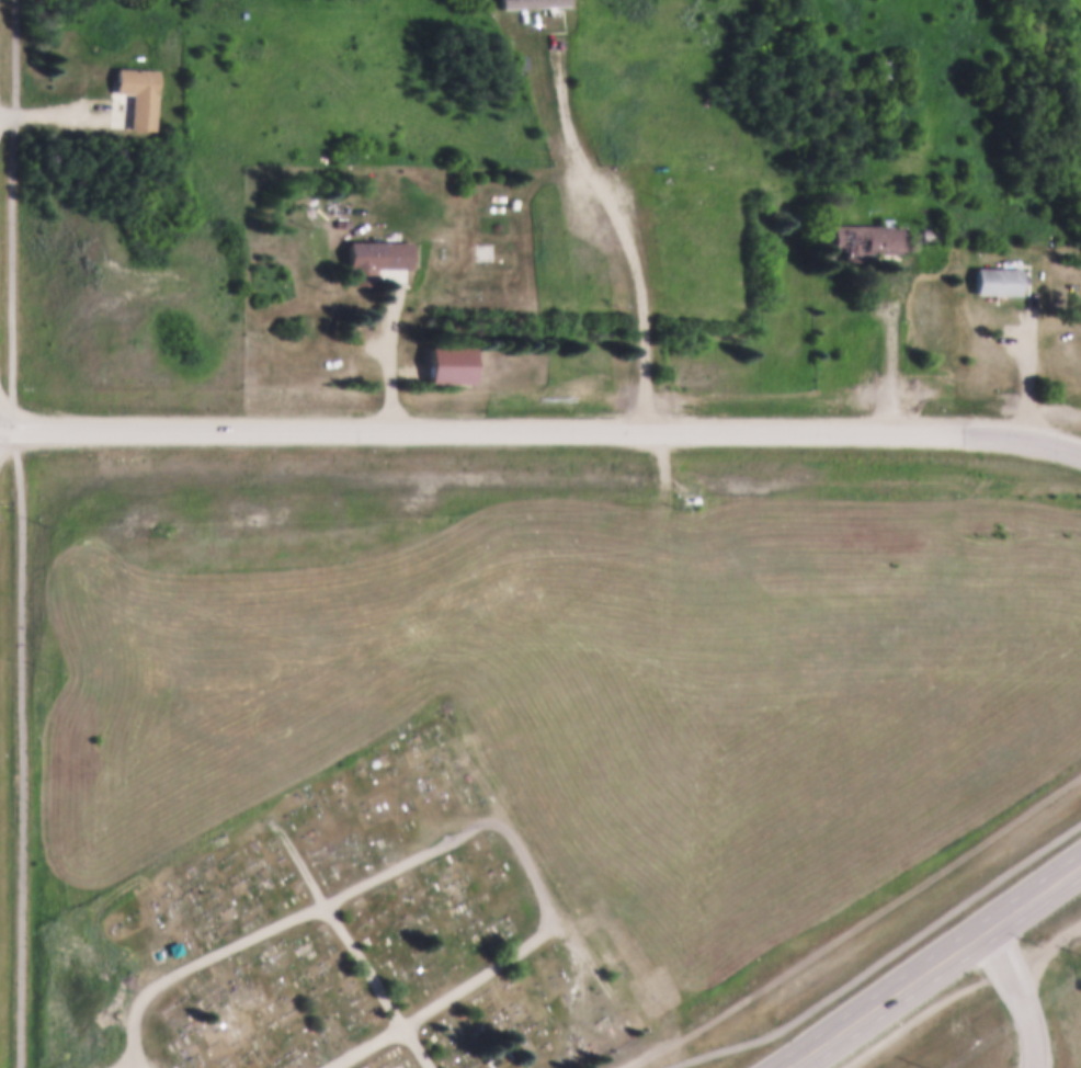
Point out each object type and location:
building: (532, 2)
building: (522, 63)
building: (883, 71)
building: (138, 93)
road: (61, 113)
building: (689, 186)
road: (636, 224)
building: (928, 232)
building: (866, 236)
building: (373, 257)
building: (994, 279)
road: (895, 348)
road: (396, 353)
road: (1032, 357)
road: (542, 432)
road: (23, 533)
road: (450, 837)
road: (360, 958)
road: (886, 961)
road: (930, 967)
road: (1021, 996)
road: (141, 1064)

